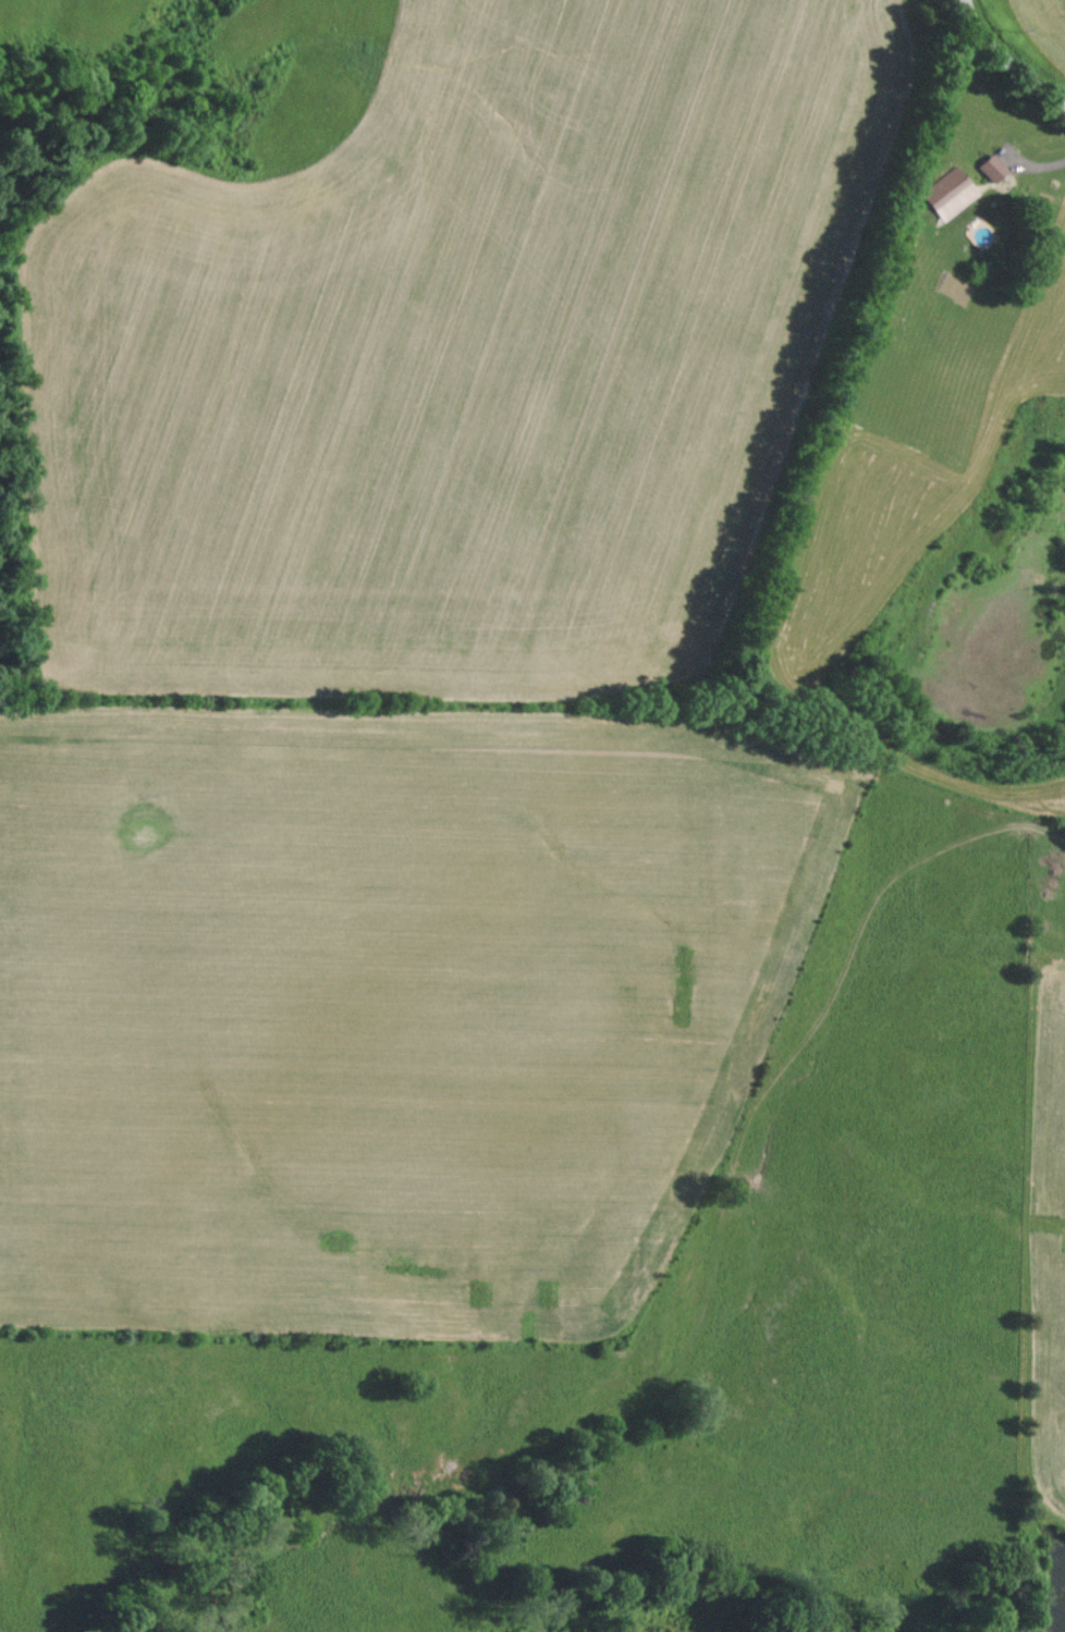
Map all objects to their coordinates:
road: (1007, 60)
building: (989, 168)
building: (946, 193)

